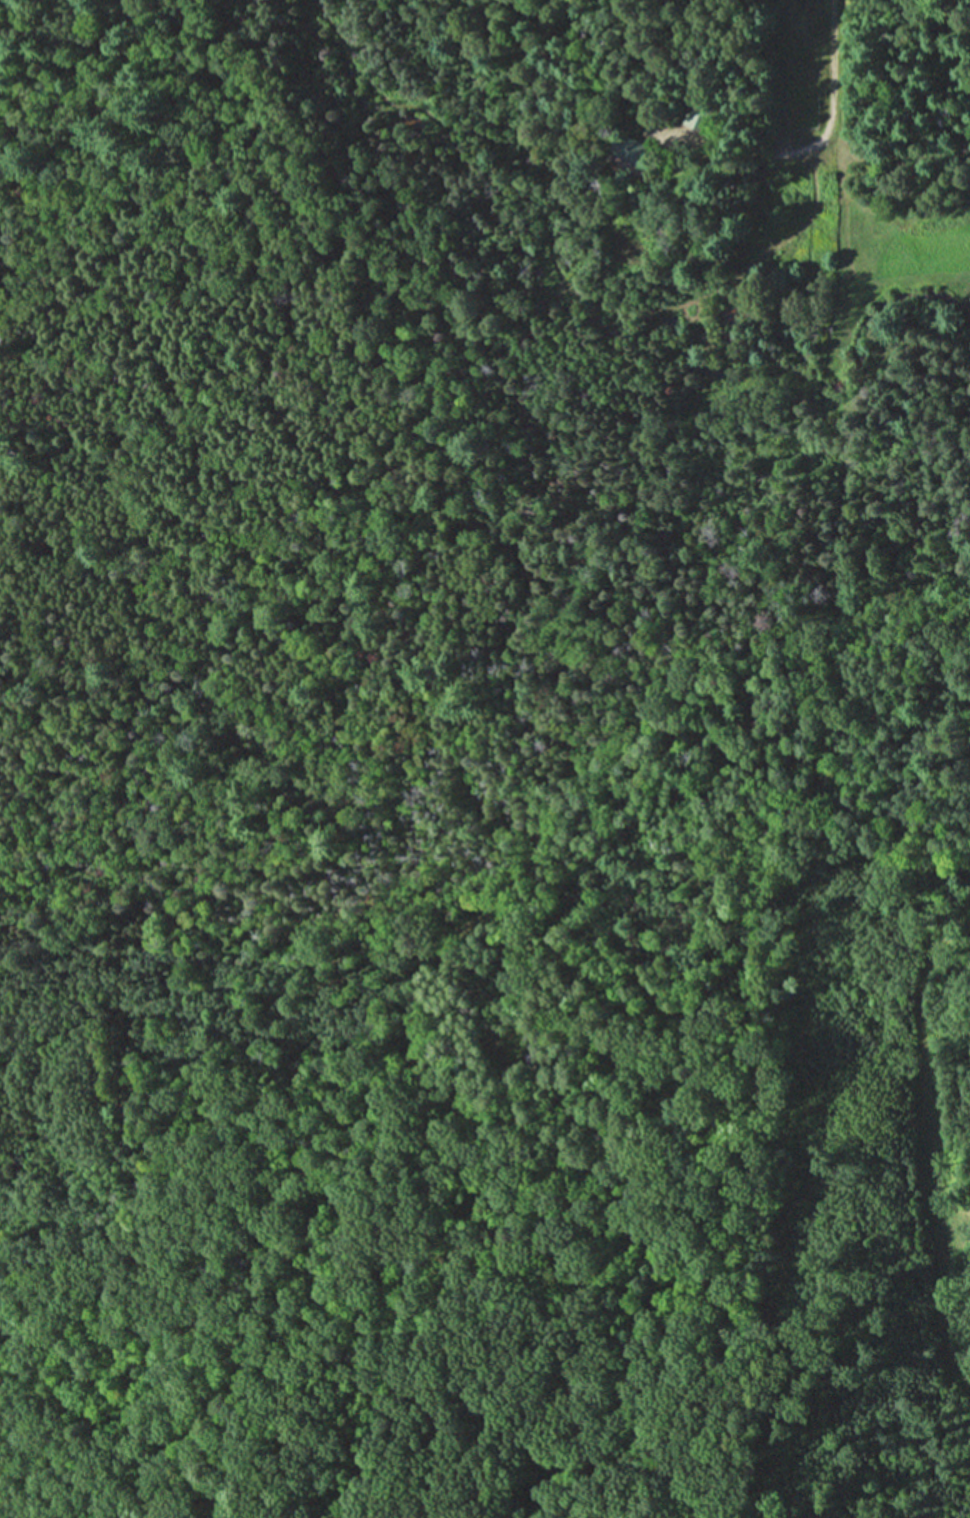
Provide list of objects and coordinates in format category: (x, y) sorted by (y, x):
road: (832, 113)

